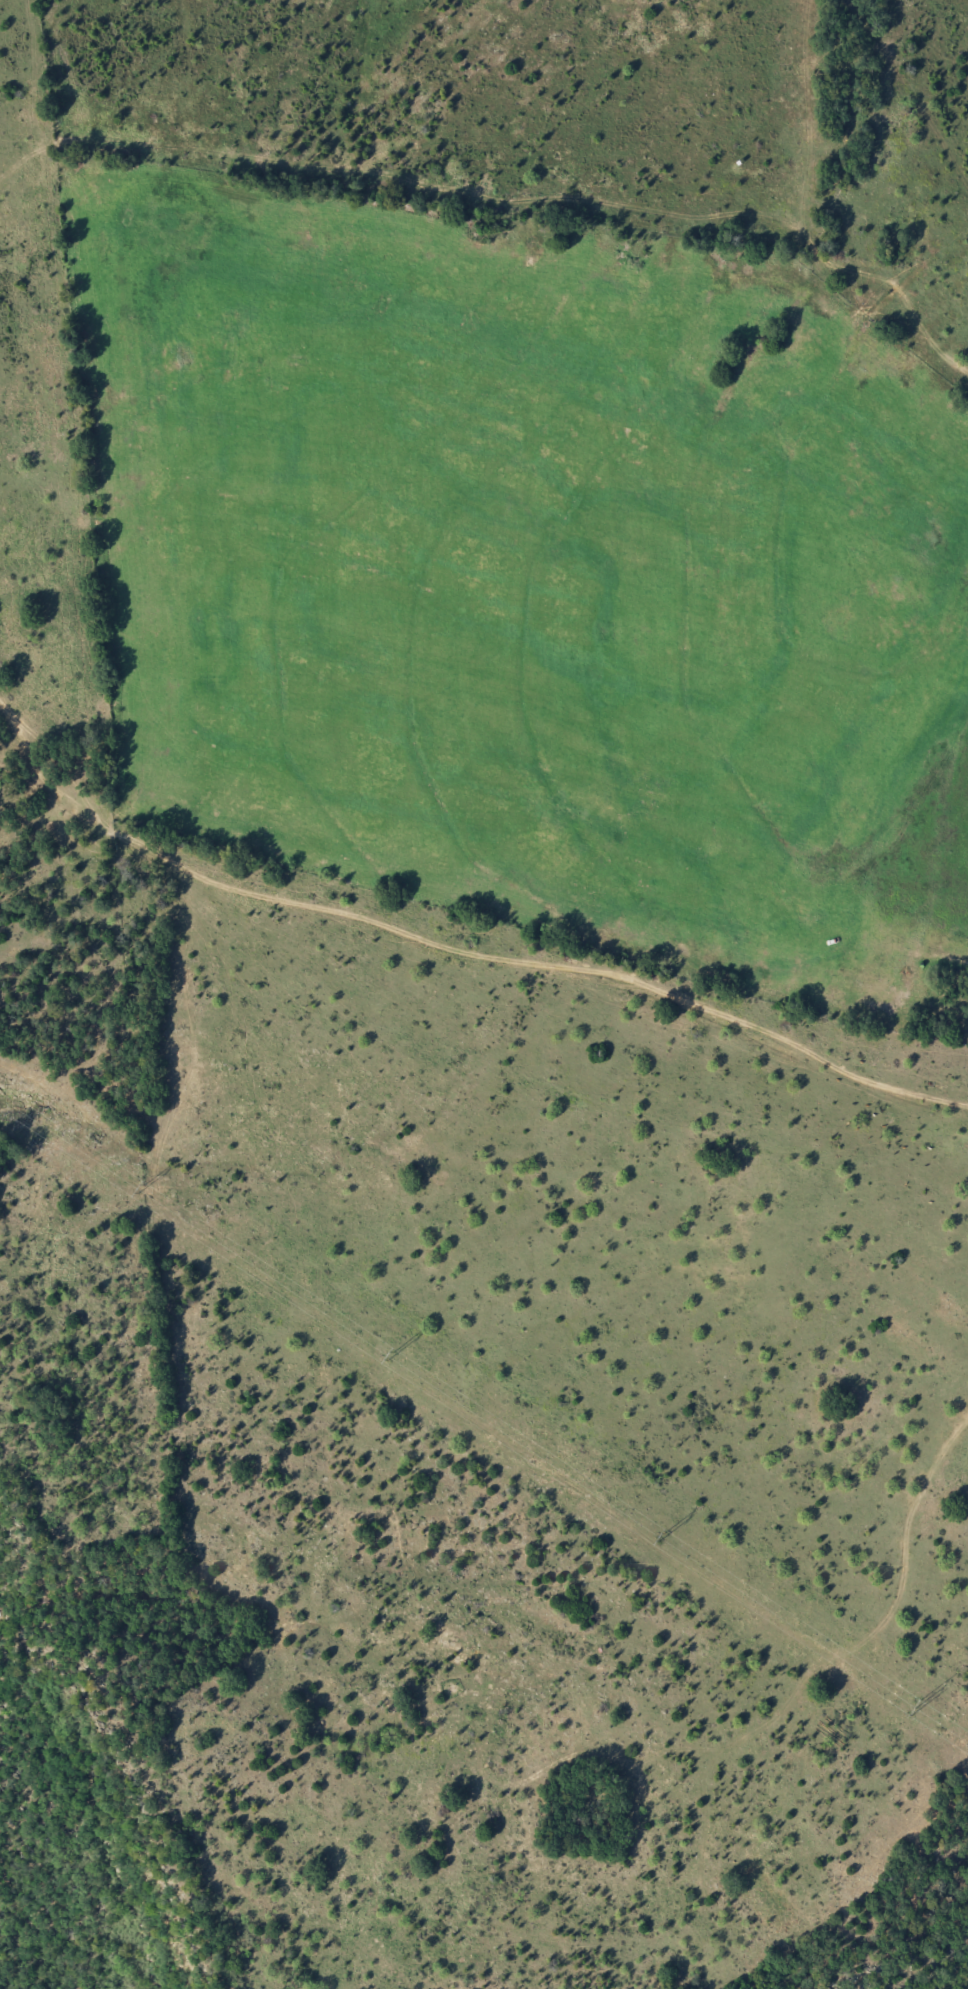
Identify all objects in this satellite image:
road: (457, 950)
power tower: (139, 1187)
power tower: (387, 1356)
power tower: (661, 1536)
power tower: (913, 1707)

